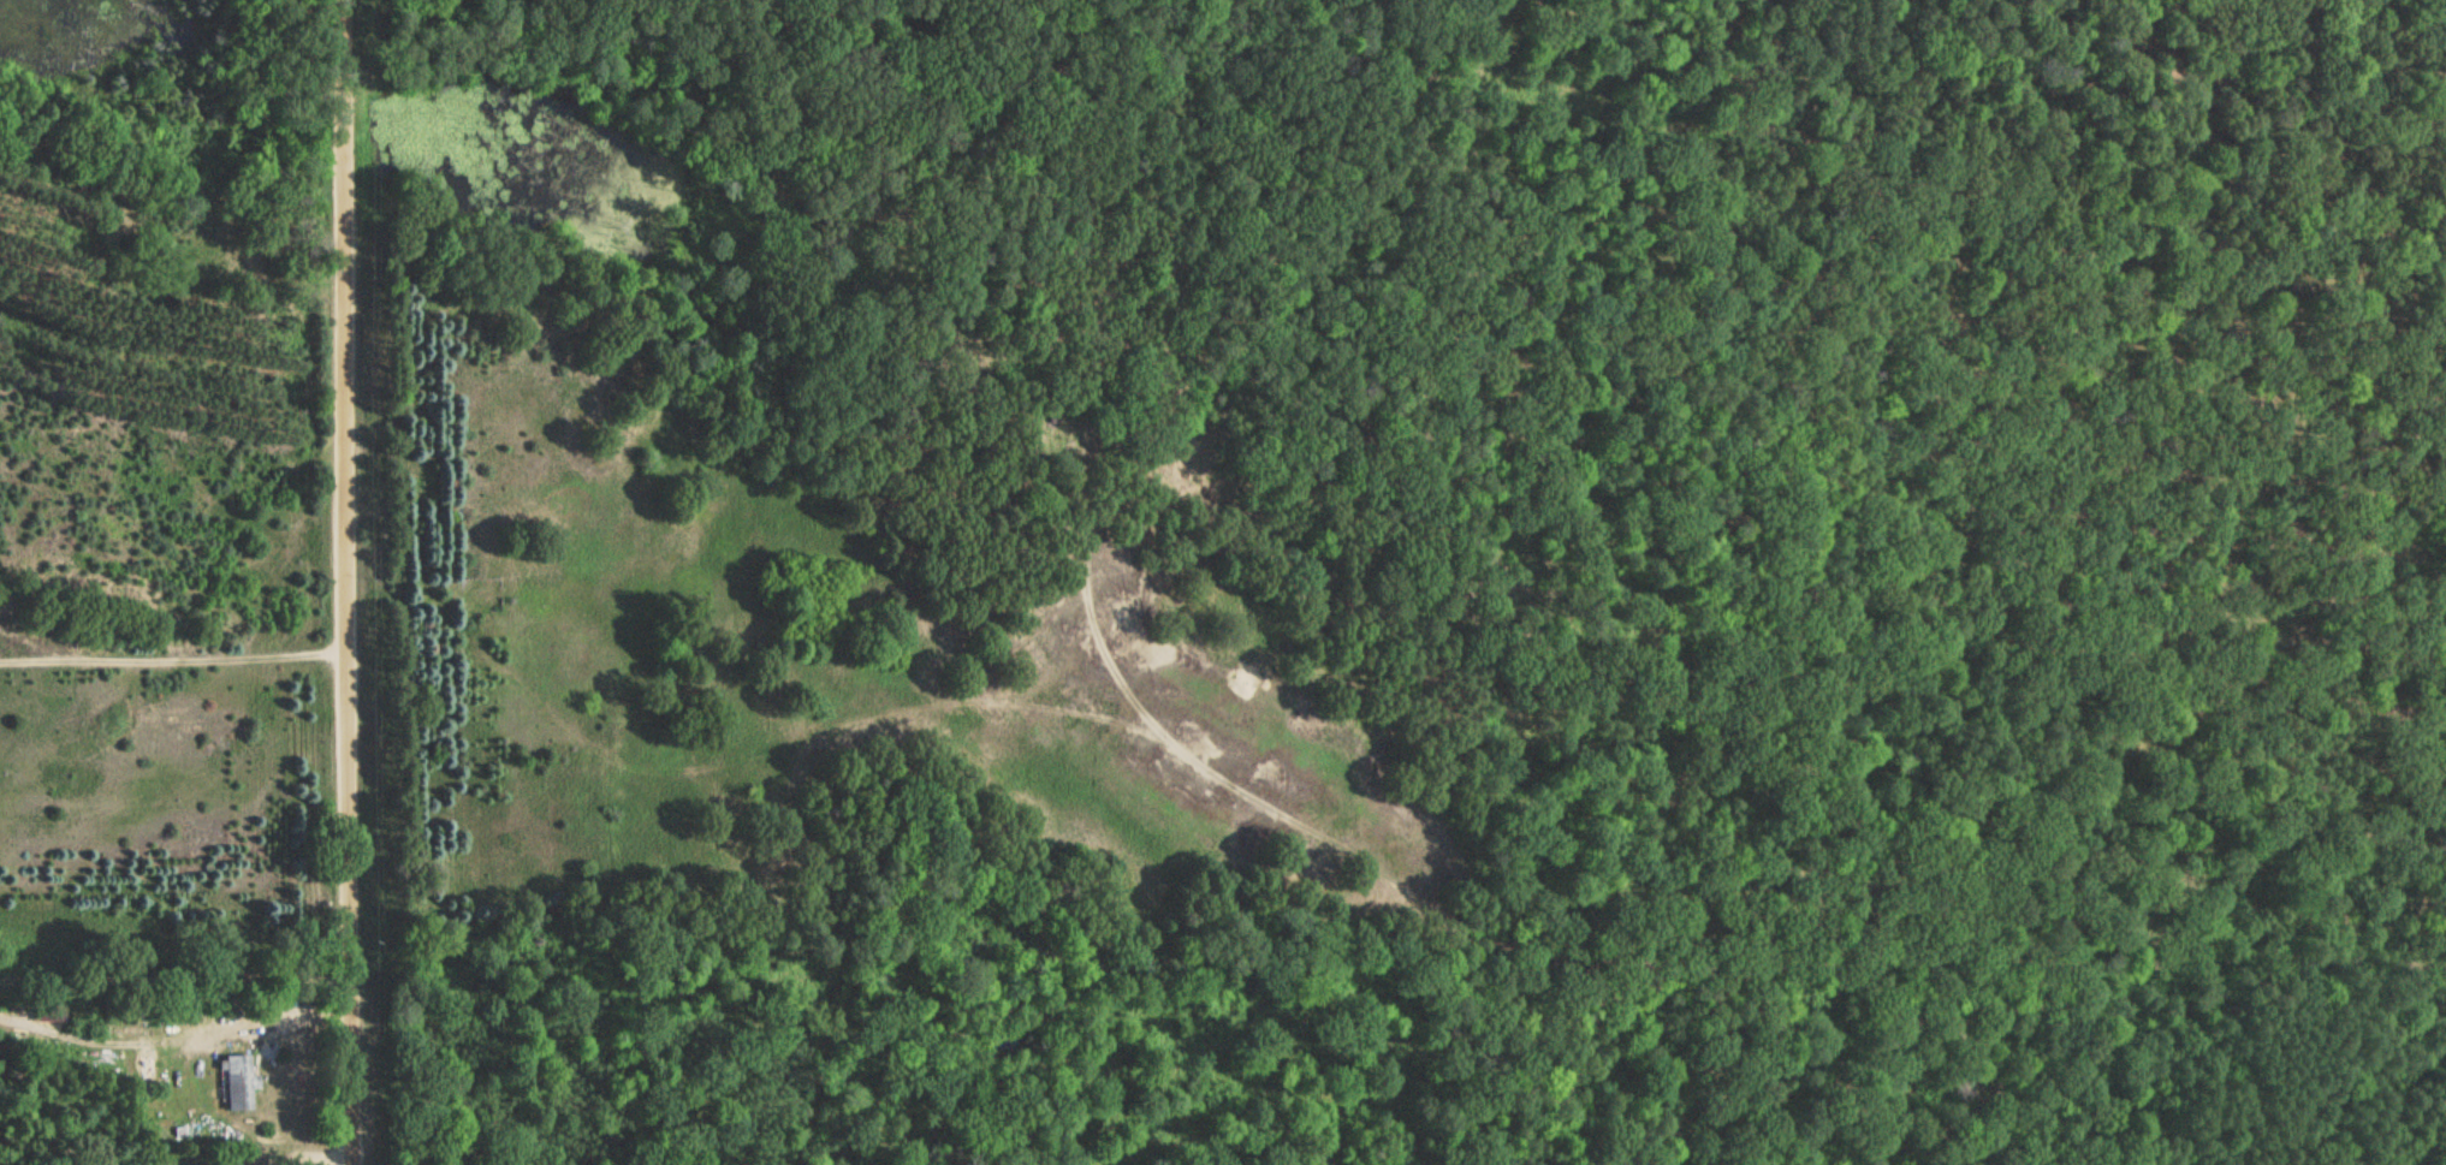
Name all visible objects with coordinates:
road: (343, 582)
road: (42, 648)
road: (172, 659)
building: (237, 1077)

